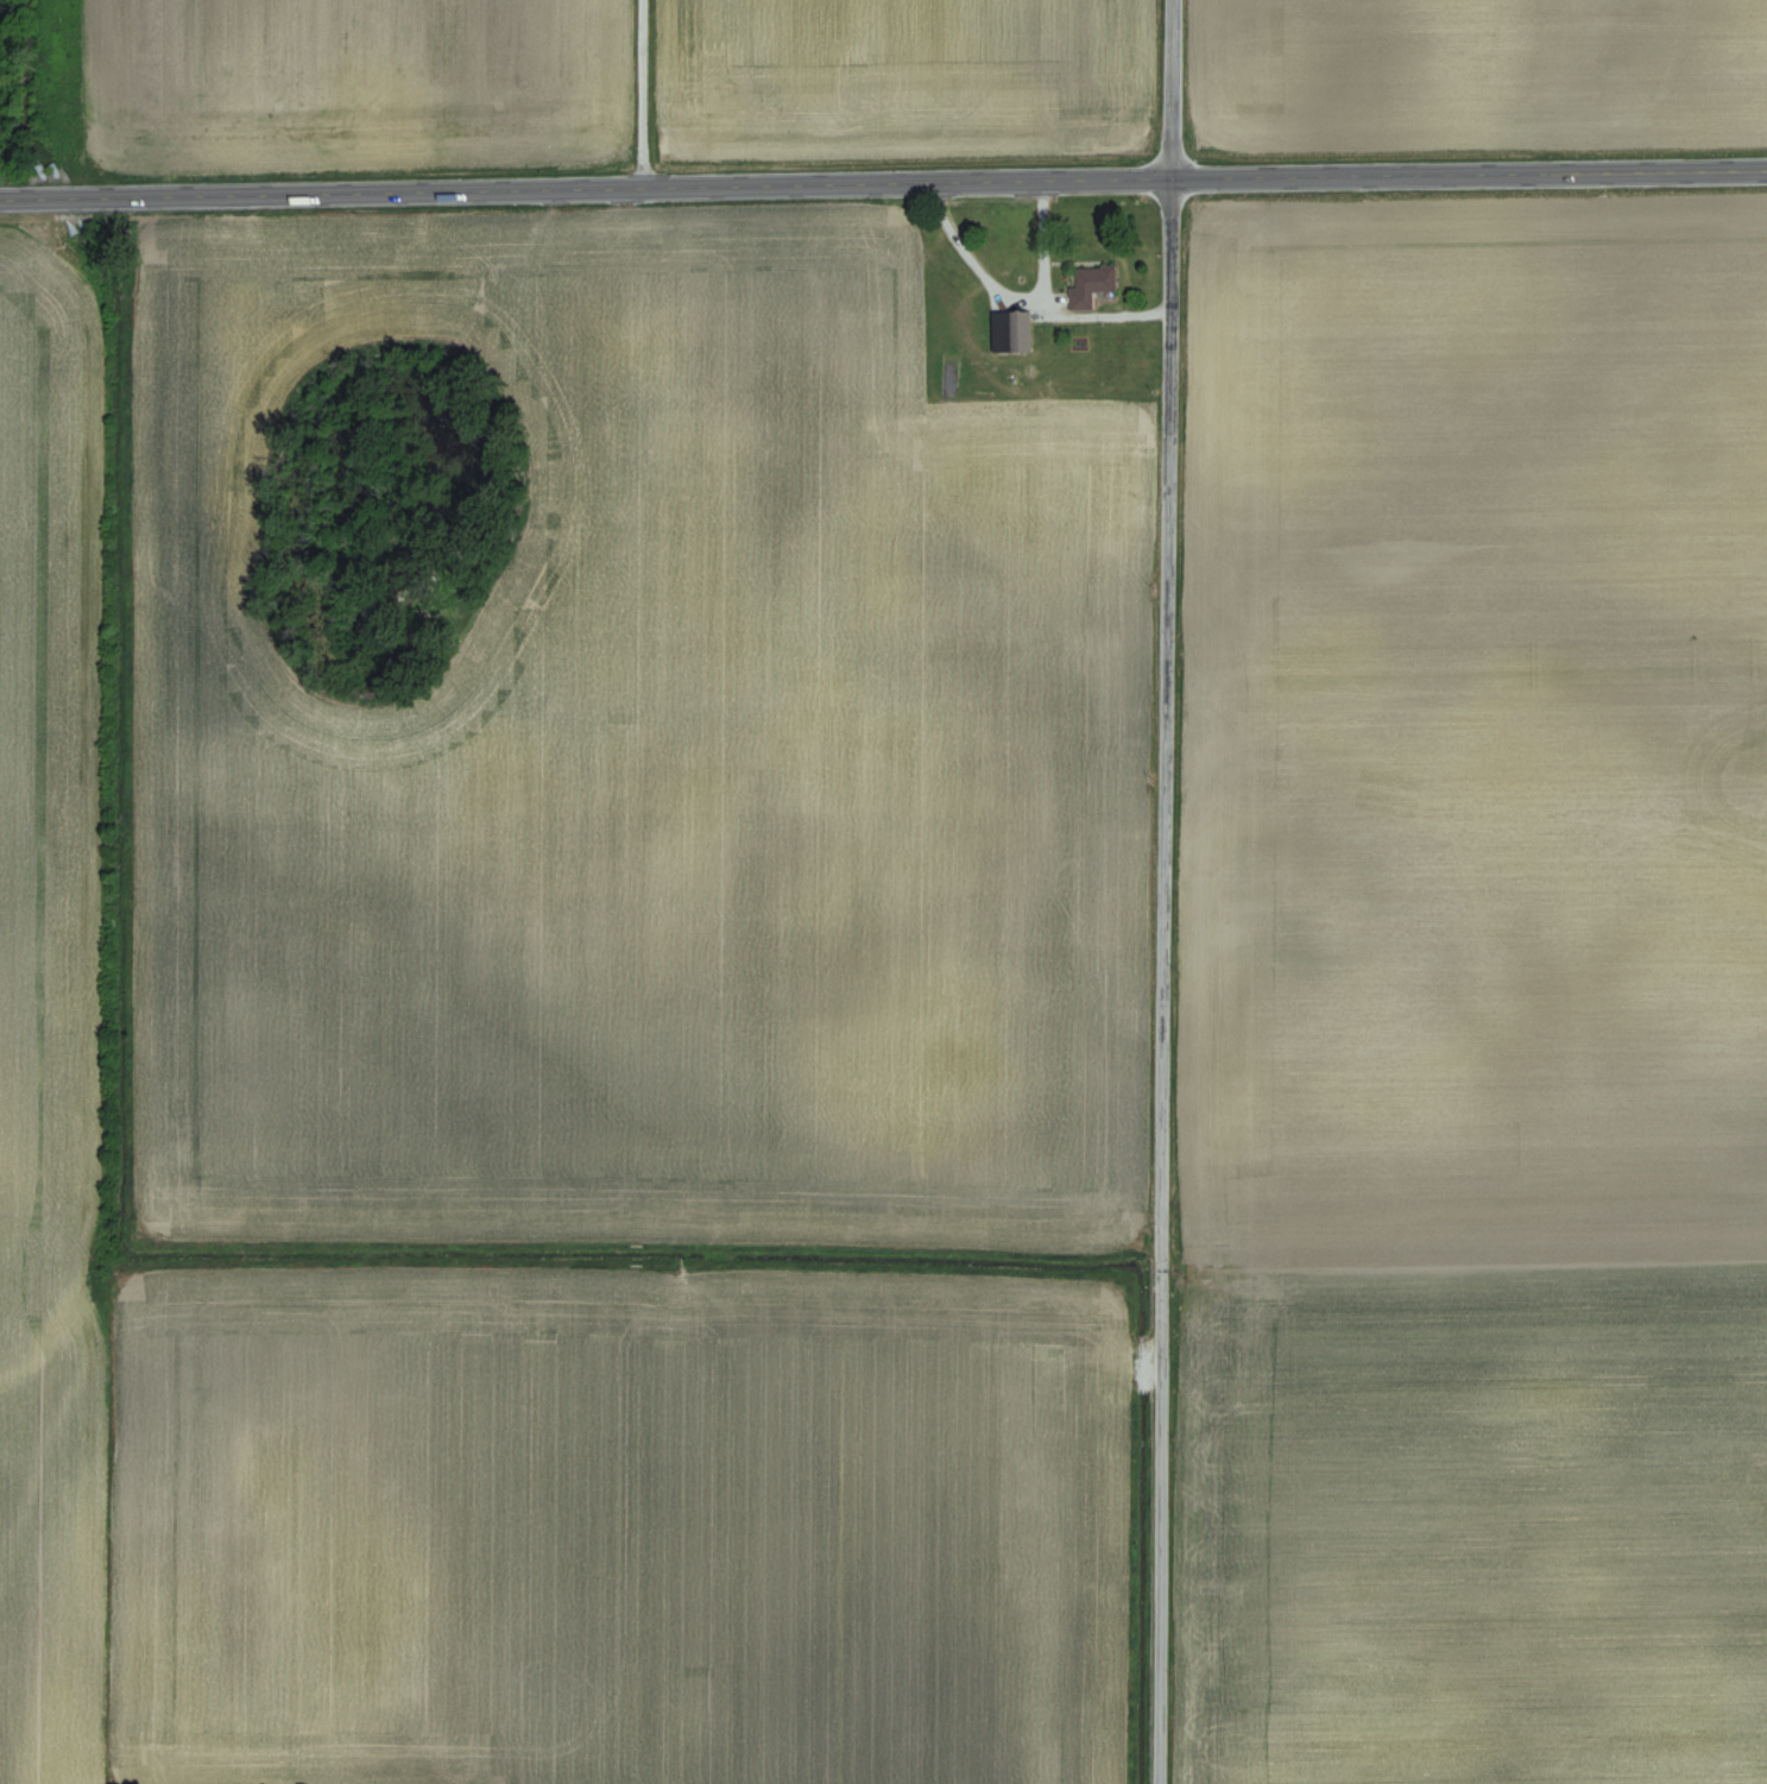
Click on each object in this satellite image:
road: (644, 93)
road: (883, 181)
road: (1046, 232)
building: (1092, 284)
road: (1029, 291)
building: (1012, 329)
road: (1167, 891)

